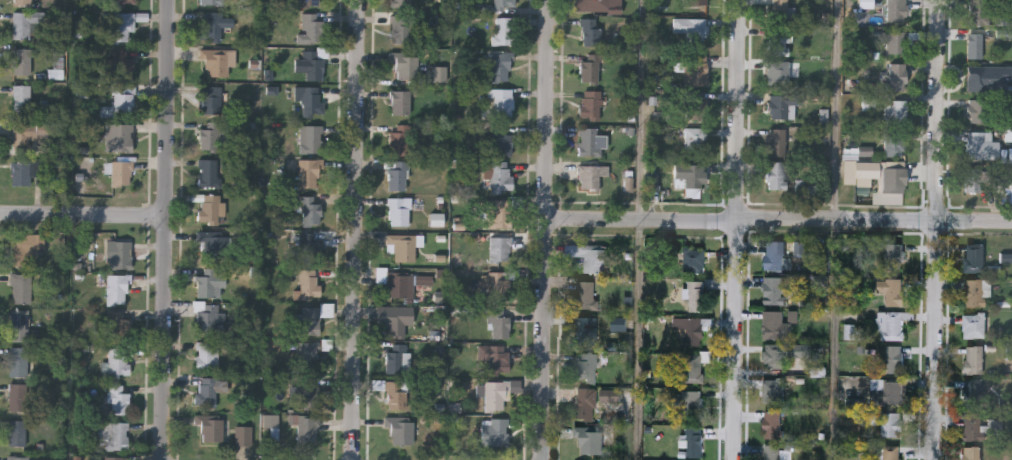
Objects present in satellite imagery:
building: (22, 1)
building: (212, 1)
building: (123, 2)
building: (310, 2)
building: (399, 3)
building: (501, 3)
building: (695, 3)
building: (598, 5)
building: (779, 10)
building: (895, 10)
building: (980, 11)
building: (25, 22)
building: (122, 24)
building: (213, 24)
building: (312, 26)
building: (690, 27)
building: (400, 28)
building: (501, 30)
building: (589, 31)
building: (778, 40)
building: (895, 41)
building: (974, 45)
building: (21, 61)
building: (214, 62)
building: (312, 63)
building: (121, 64)
building: (404, 64)
building: (499, 65)
building: (698, 69)
building: (777, 72)
building: (897, 76)
building: (986, 77)
building: (590, 85)
building: (21, 97)
building: (311, 98)
building: (210, 99)
building: (120, 102)
building: (399, 102)
building: (500, 103)
building: (781, 104)
building: (695, 105)
building: (978, 110)
road: (643, 111)
road: (839, 111)
building: (896, 111)
building: (26, 133)
building: (209, 135)
building: (118, 137)
building: (311, 138)
building: (694, 139)
building: (398, 140)
building: (501, 141)
building: (588, 141)
building: (776, 141)
building: (895, 143)
building: (981, 145)
building: (26, 171)
building: (120, 171)
building: (208, 173)
building: (309, 173)
building: (397, 175)
building: (590, 175)
building: (689, 175)
building: (777, 175)
building: (499, 176)
building: (972, 179)
building: (1003, 186)
building: (209, 208)
building: (311, 211)
building: (398, 211)
building: (499, 213)
road: (82, 217)
road: (777, 222)
road: (163, 229)
road: (542, 229)
road: (359, 230)
road: (737, 230)
road: (940, 230)
building: (212, 244)
building: (401, 246)
building: (25, 248)
building: (500, 249)
building: (309, 251)
building: (773, 254)
building: (892, 254)
building: (120, 255)
building: (588, 255)
building: (973, 257)
building: (693, 259)
building: (426, 279)
building: (209, 282)
building: (428, 283)
building: (399, 284)
building: (307, 285)
building: (497, 287)
building: (20, 288)
building: (117, 288)
building: (774, 290)
building: (891, 290)
building: (975, 291)
building: (585, 293)
building: (695, 294)
building: (208, 318)
building: (397, 320)
building: (307, 321)
building: (891, 322)
building: (498, 323)
building: (18, 324)
building: (774, 324)
building: (973, 324)
building: (118, 325)
building: (587, 328)
building: (687, 329)
road: (640, 341)
road: (835, 341)
building: (782, 351)
building: (206, 355)
building: (892, 357)
building: (396, 358)
building: (496, 358)
building: (972, 358)
building: (17, 360)
building: (115, 362)
building: (585, 364)
building: (689, 365)
building: (306, 376)
building: (772, 389)
building: (888, 390)
building: (970, 390)
building: (206, 392)
building: (395, 394)
building: (495, 394)
building: (17, 396)
building: (118, 399)
building: (689, 401)
building: (584, 402)
building: (890, 422)
building: (772, 423)
building: (978, 426)
building: (210, 428)
building: (306, 428)
building: (400, 429)
building: (494, 432)
building: (15, 433)
building: (115, 435)
building: (242, 435)
building: (589, 438)
building: (694, 441)
building: (771, 451)
building: (892, 452)
building: (971, 453)
building: (18, 457)
building: (113, 458)

